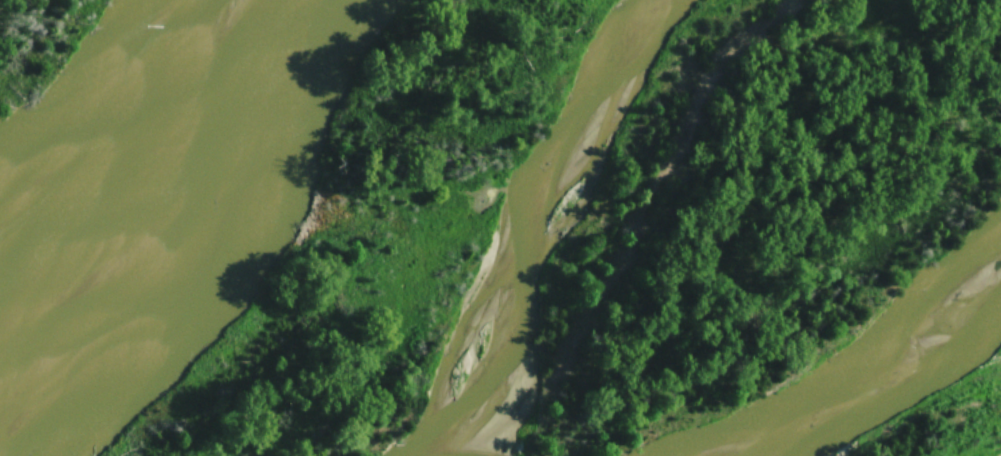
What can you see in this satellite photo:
river: (135, 187)

